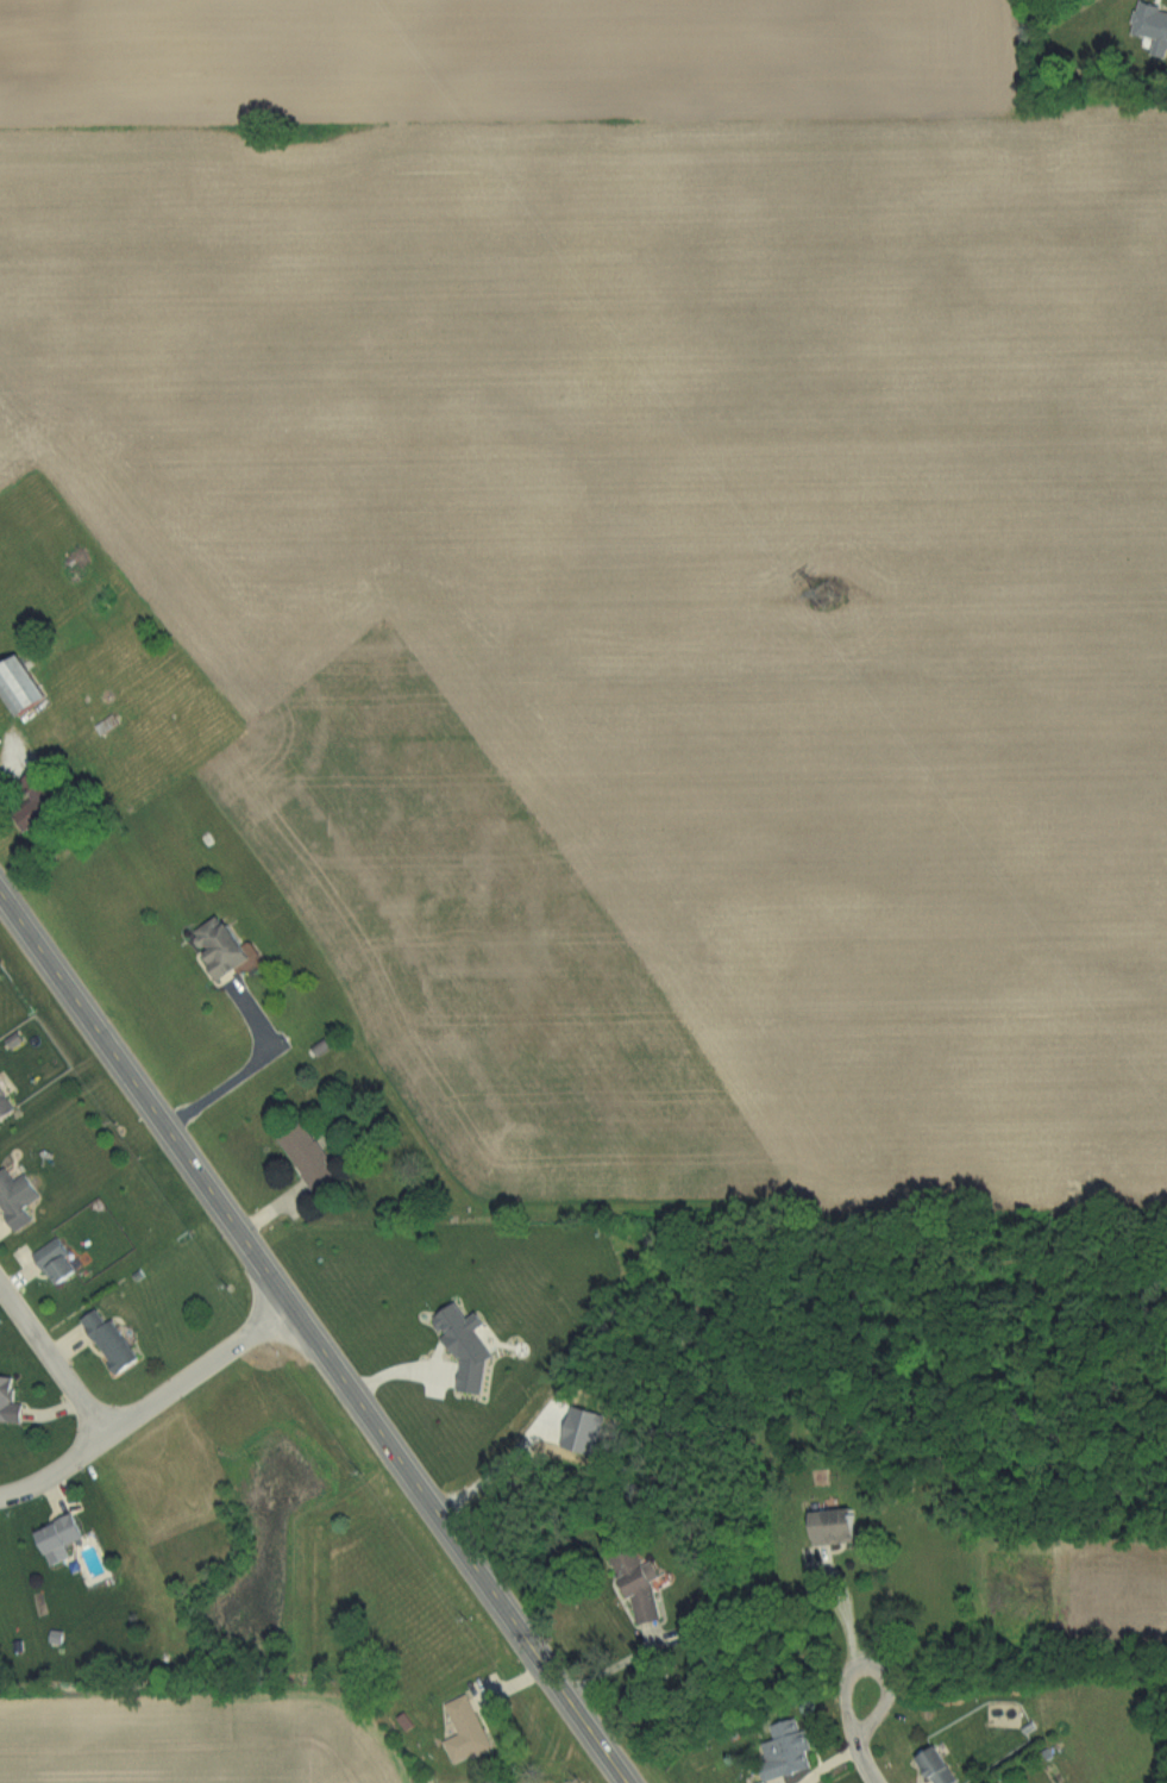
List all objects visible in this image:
crop: (671, 494)
building: (30, 700)
building: (227, 949)
building: (5, 1105)
building: (313, 1160)
building: (19, 1199)
building: (61, 1263)
road: (313, 1338)
building: (112, 1341)
road: (50, 1356)
road: (144, 1395)
building: (12, 1401)
building: (840, 1527)
building: (63, 1539)
building: (646, 1593)
road: (841, 1627)
building: (468, 1732)
crop: (197, 1735)
road: (858, 1738)
building: (789, 1750)
building: (940, 1766)

